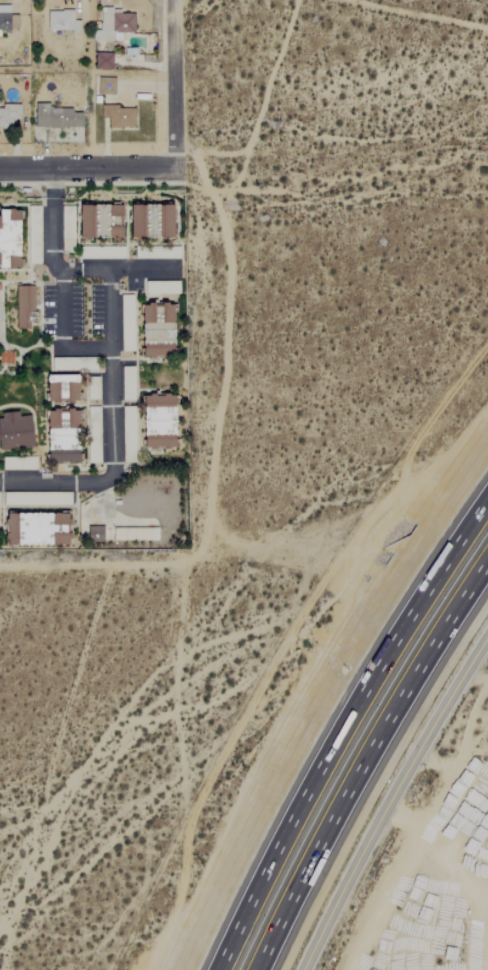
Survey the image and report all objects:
building: (7, 19)
building: (60, 21)
building: (111, 24)
building: (101, 61)
road: (173, 84)
building: (104, 86)
building: (8, 114)
building: (116, 116)
building: (54, 117)
road: (87, 169)
building: (98, 221)
building: (147, 221)
building: (66, 228)
building: (105, 252)
building: (160, 287)
building: (20, 308)
building: (162, 313)
building: (125, 323)
road: (63, 330)
road: (111, 355)
building: (5, 358)
building: (125, 383)
building: (153, 422)
building: (56, 424)
building: (14, 431)
building: (33, 529)
building: (93, 534)
building: (133, 534)
road: (448, 698)
road: (347, 734)
railway: (347, 743)
road: (369, 768)
road: (358, 864)

